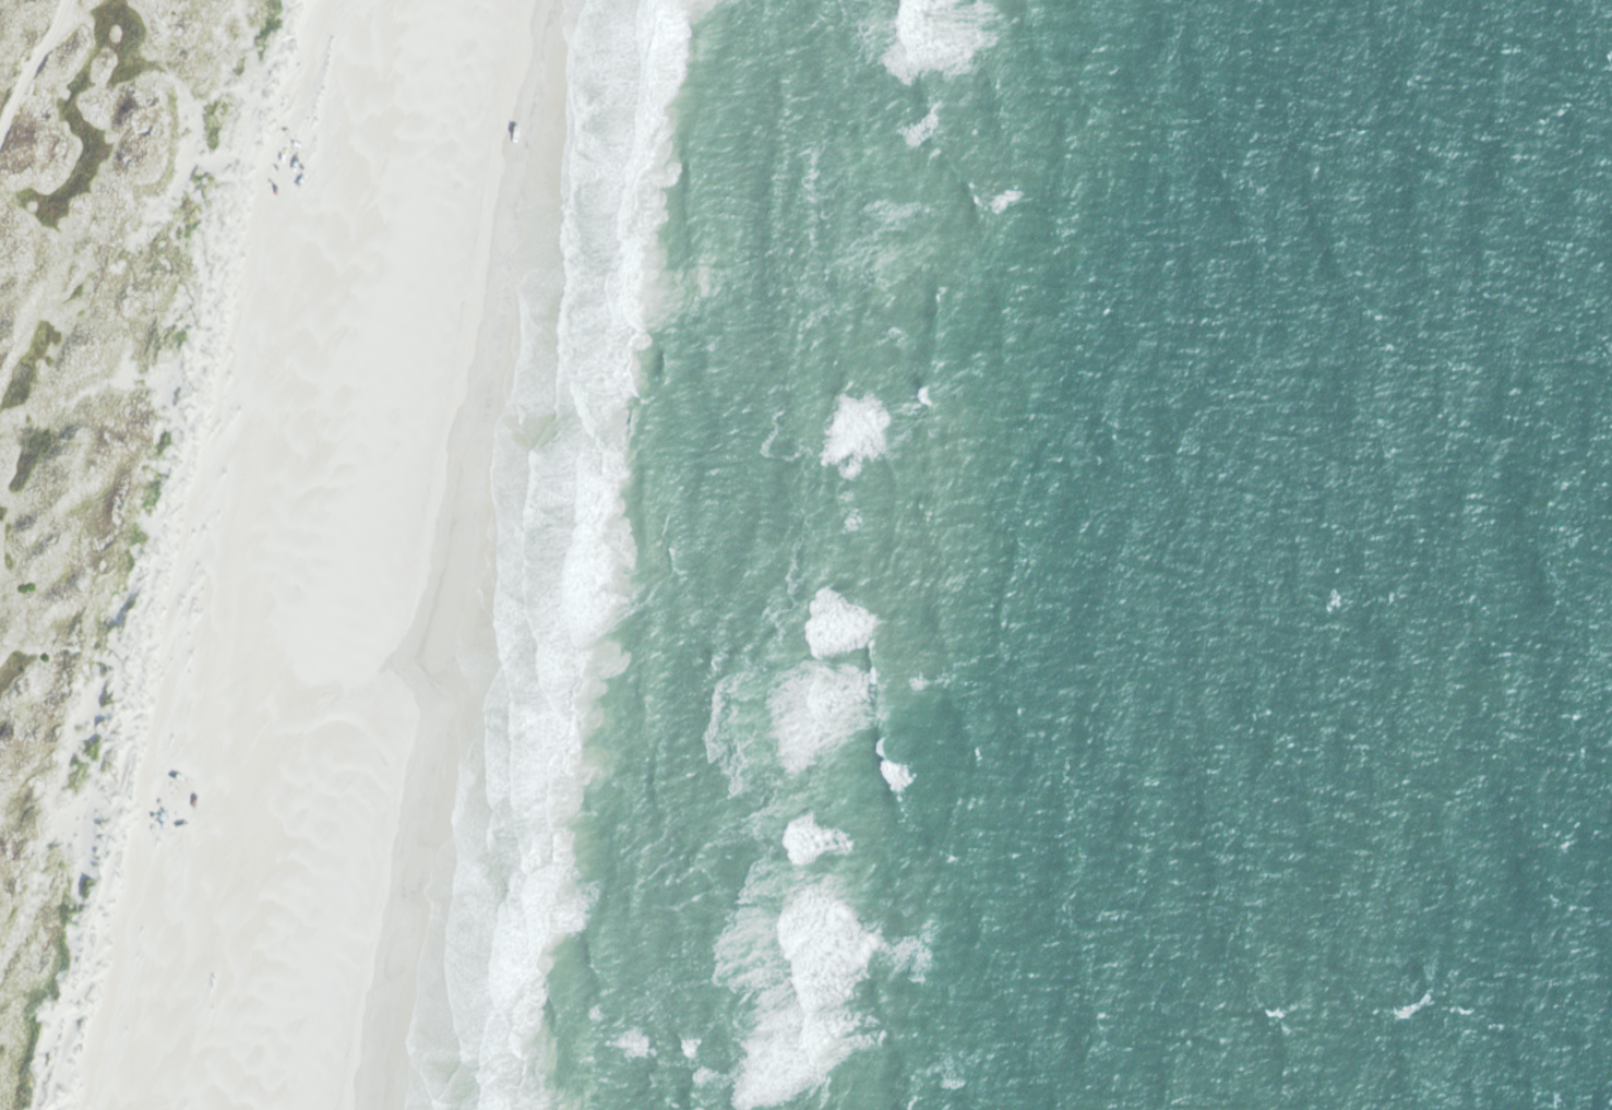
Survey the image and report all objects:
road: (31, 64)
road: (38, 647)
building: (94, 667)
building: (56, 798)

